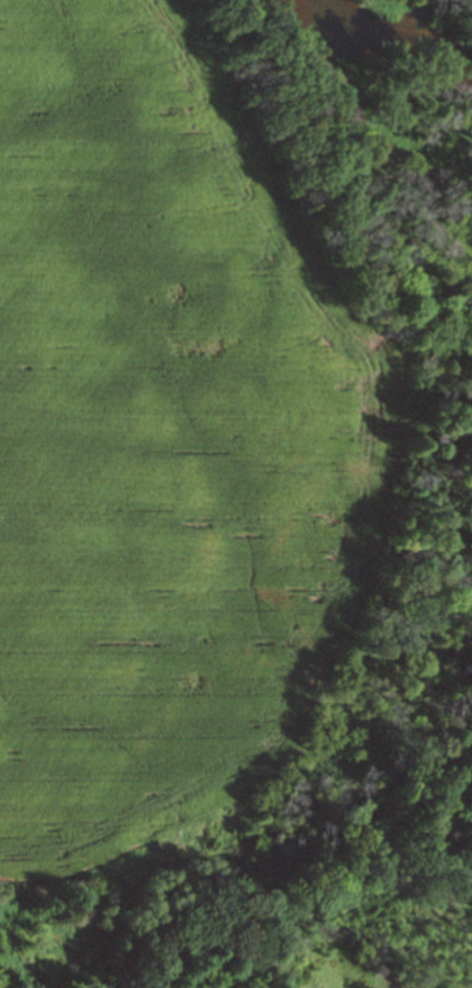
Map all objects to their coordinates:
river: (403, 53)

